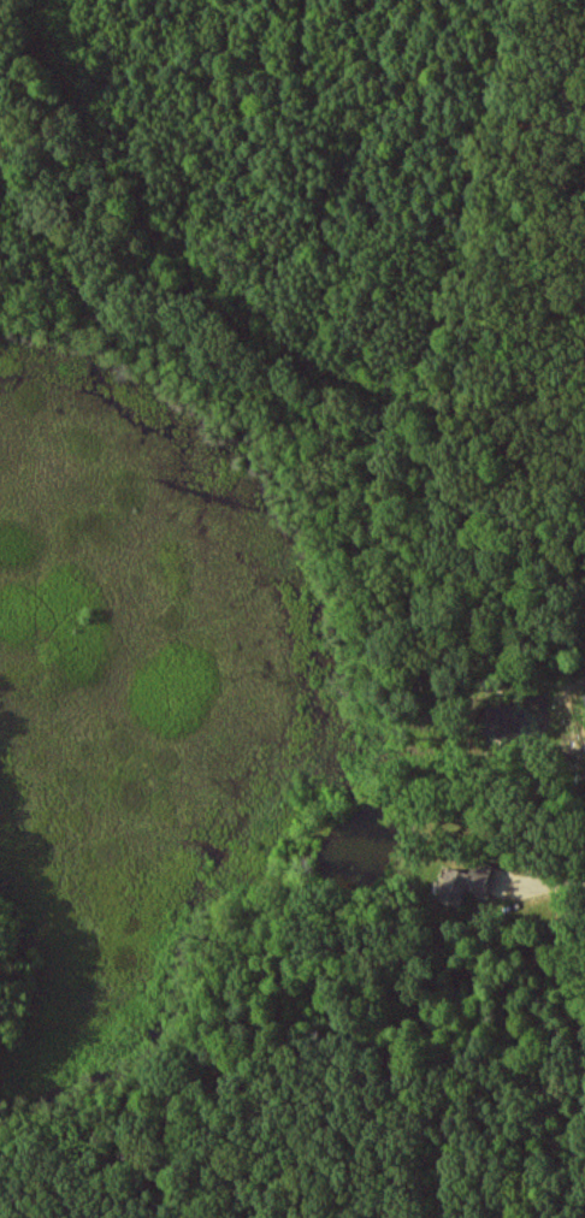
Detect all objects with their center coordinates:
road: (555, 887)

